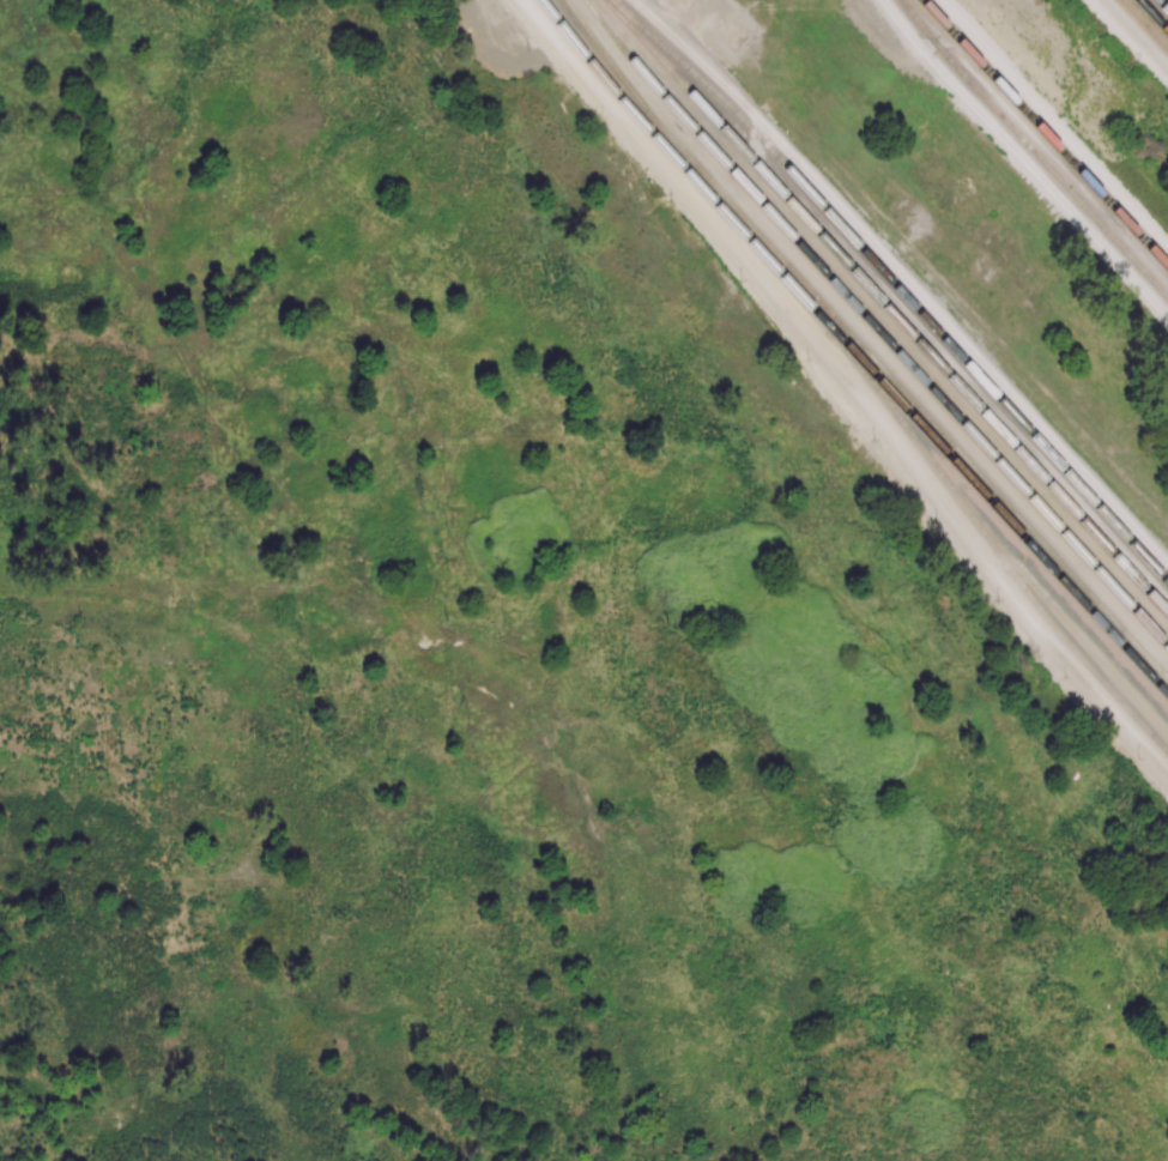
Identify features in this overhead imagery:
railway: (1163, 4)
railway: (1154, 14)
railway: (1146, 23)
road: (1134, 35)
railway: (1047, 129)
railway: (1035, 147)
railway: (895, 285)
railway: (885, 306)
railway: (875, 323)
railway: (861, 343)
railway: (865, 367)
railway: (1006, 516)

